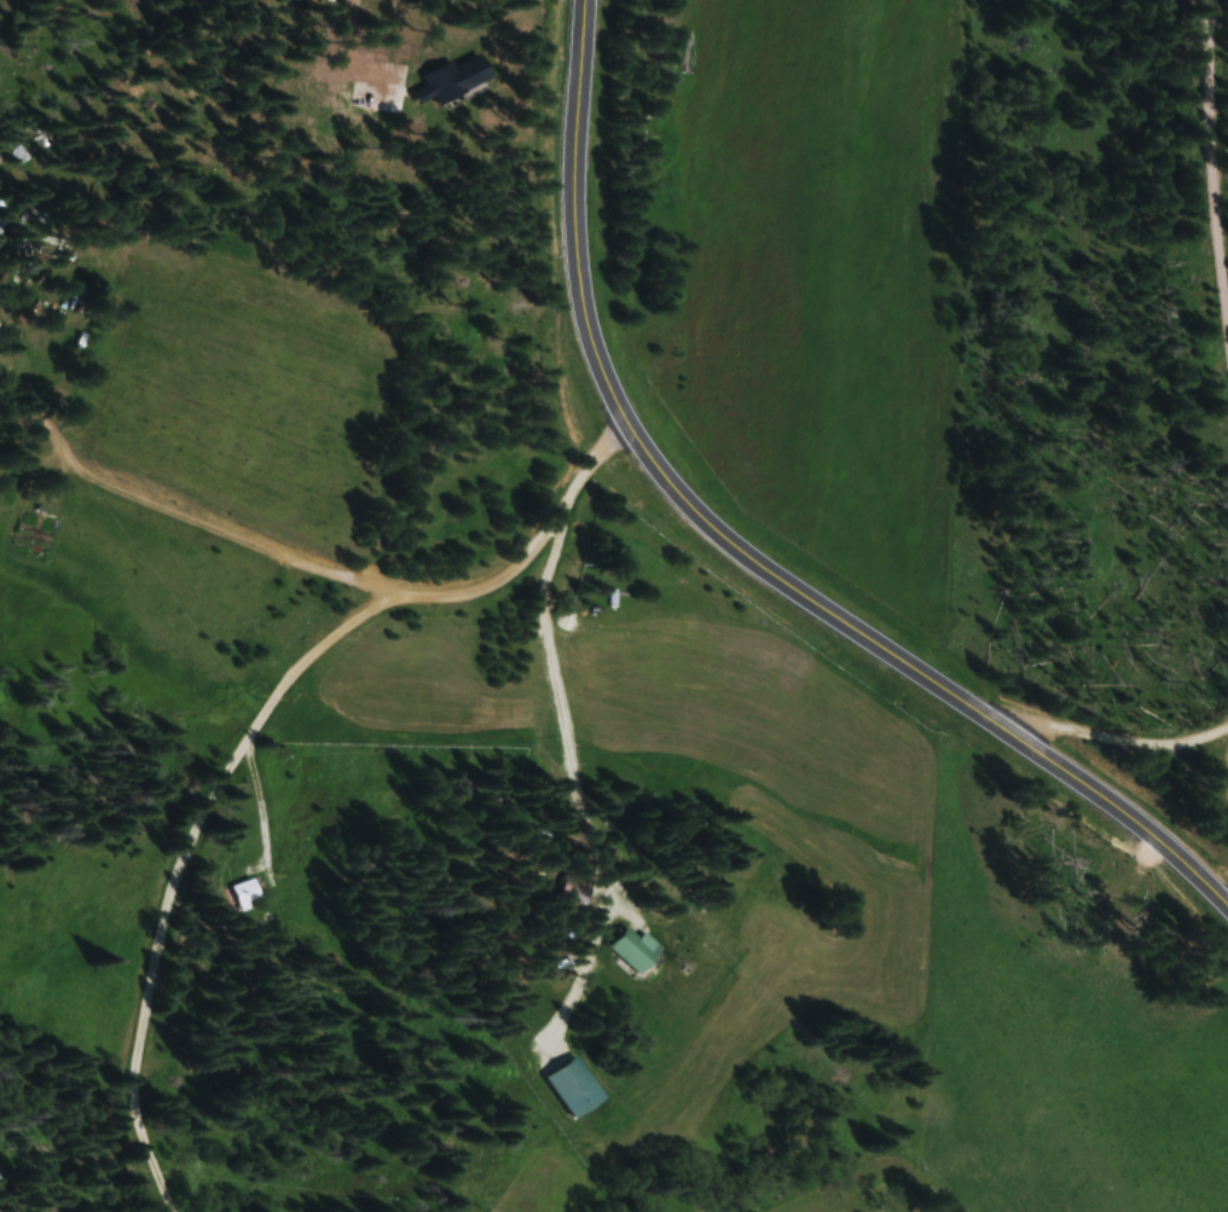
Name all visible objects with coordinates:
road: (346, 36)
building: (456, 79)
building: (380, 95)
road: (1210, 157)
road: (738, 551)
road: (415, 599)
road: (1095, 733)
building: (575, 888)
building: (245, 893)
building: (636, 950)
road: (139, 998)

